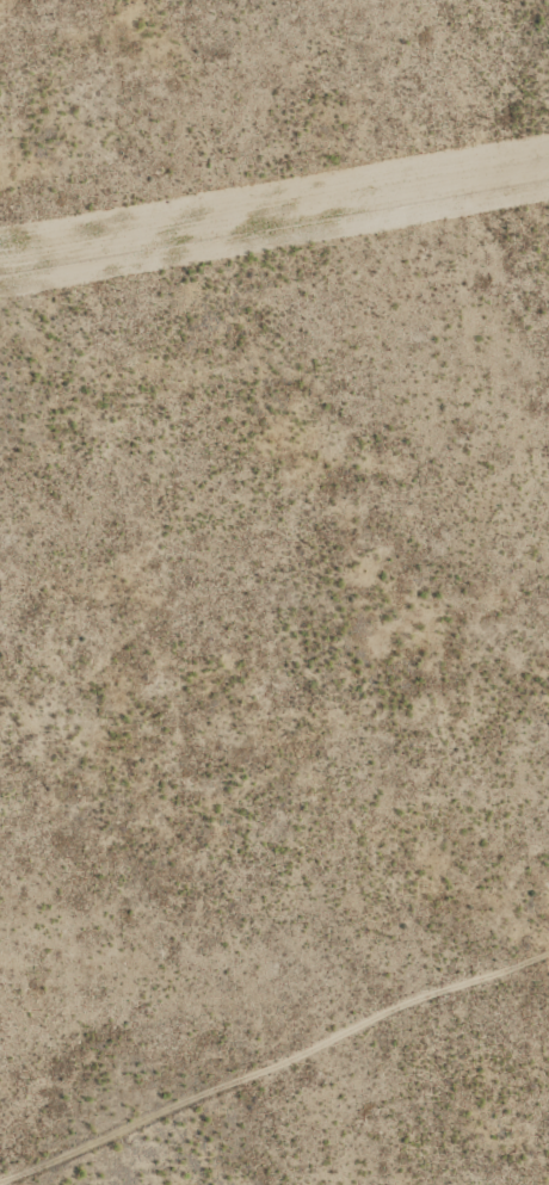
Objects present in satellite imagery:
road: (272, 1030)

